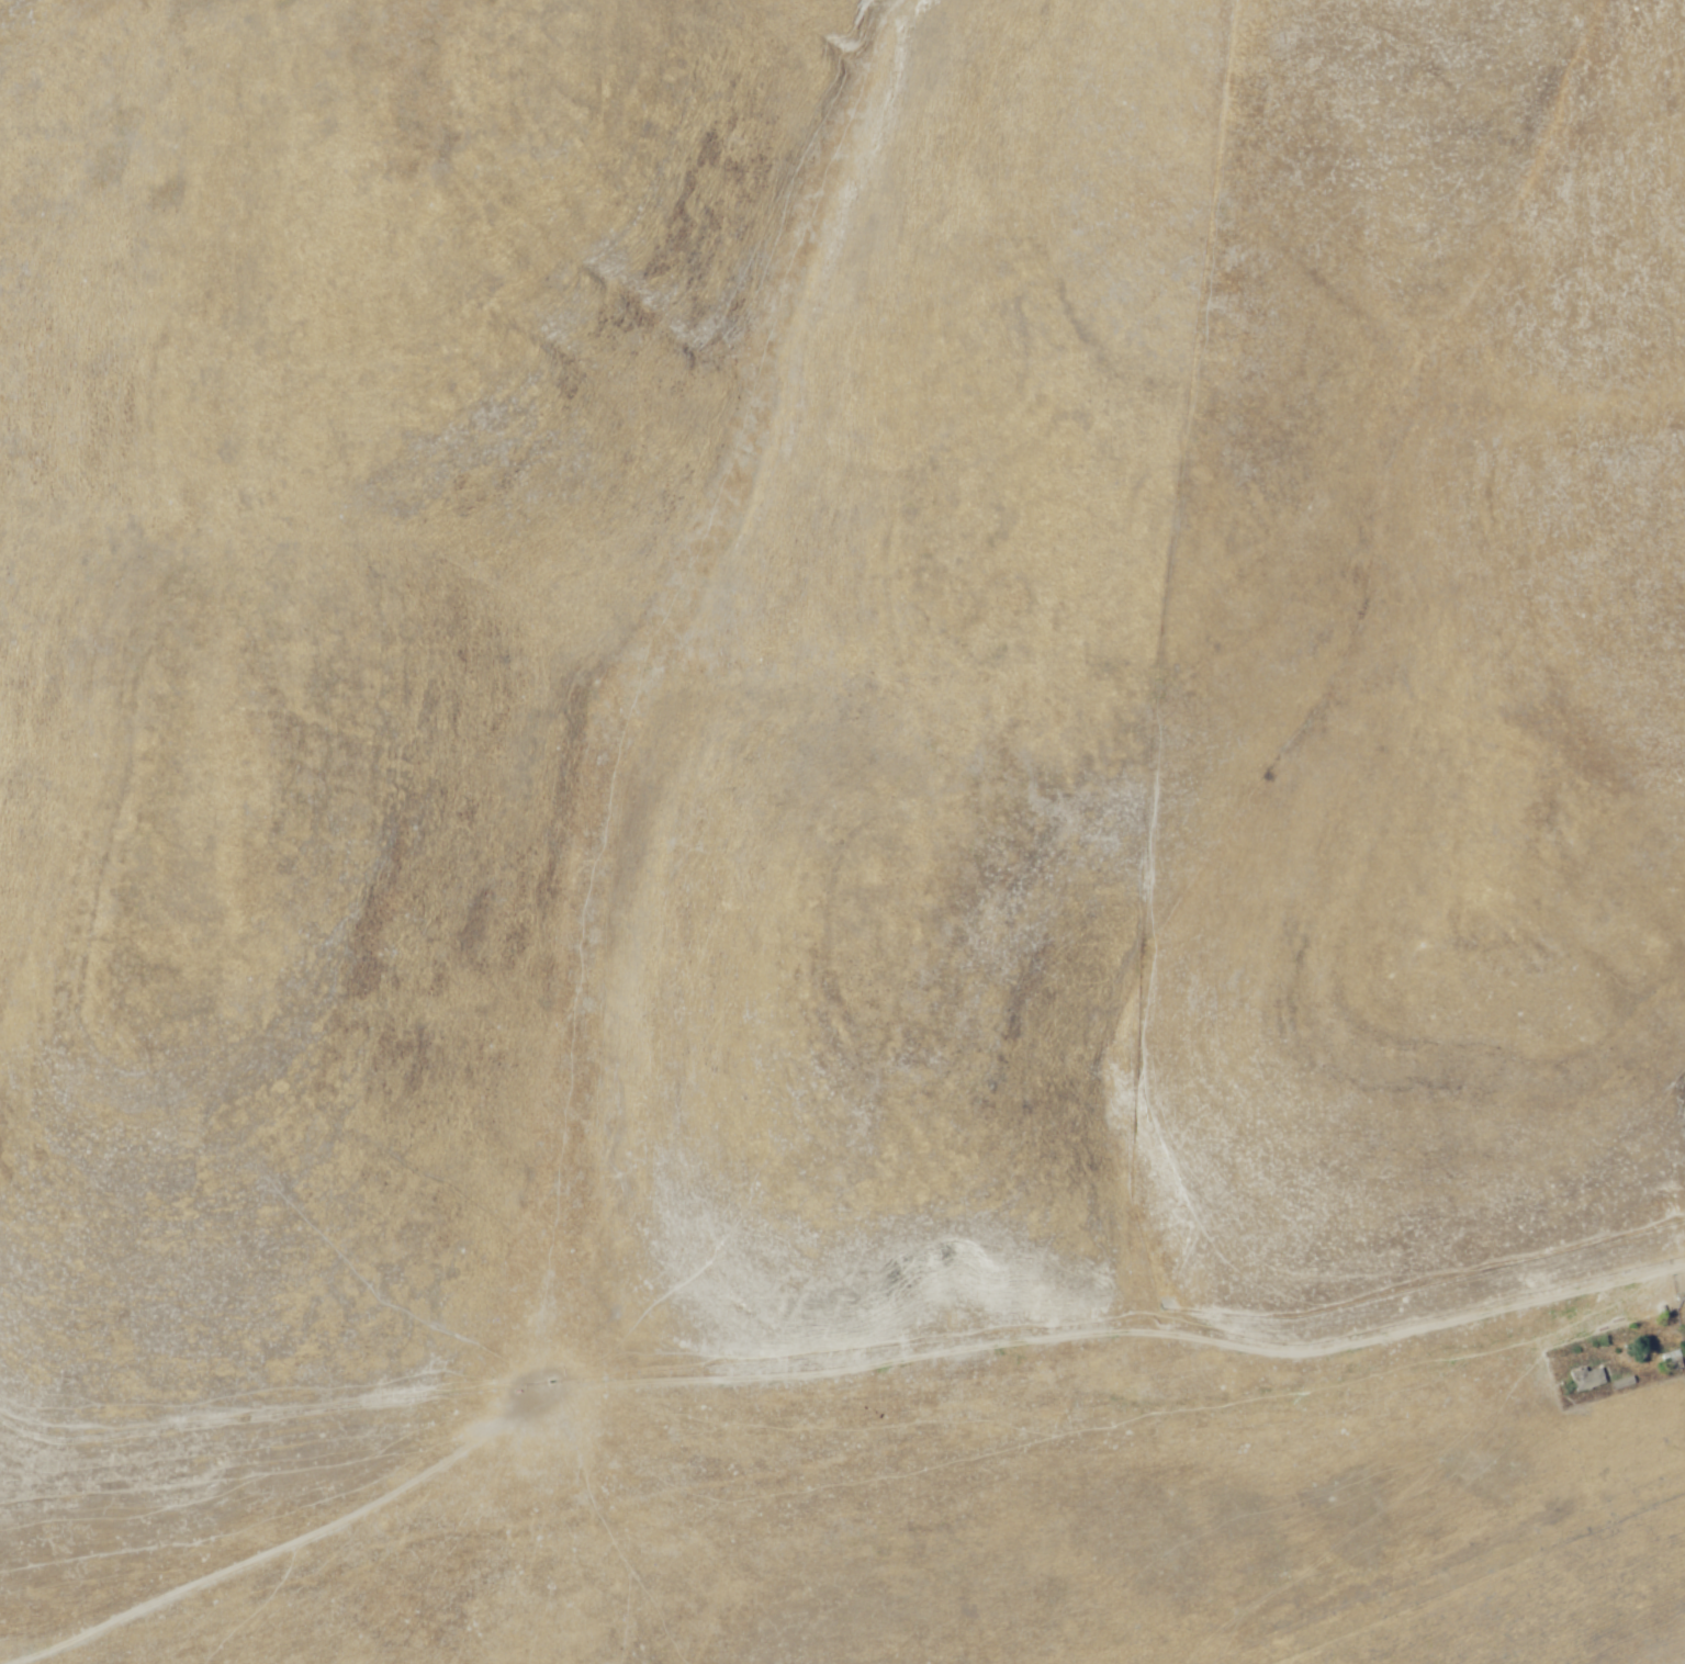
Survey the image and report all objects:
building: (1576, 1376)
road: (818, 1393)

